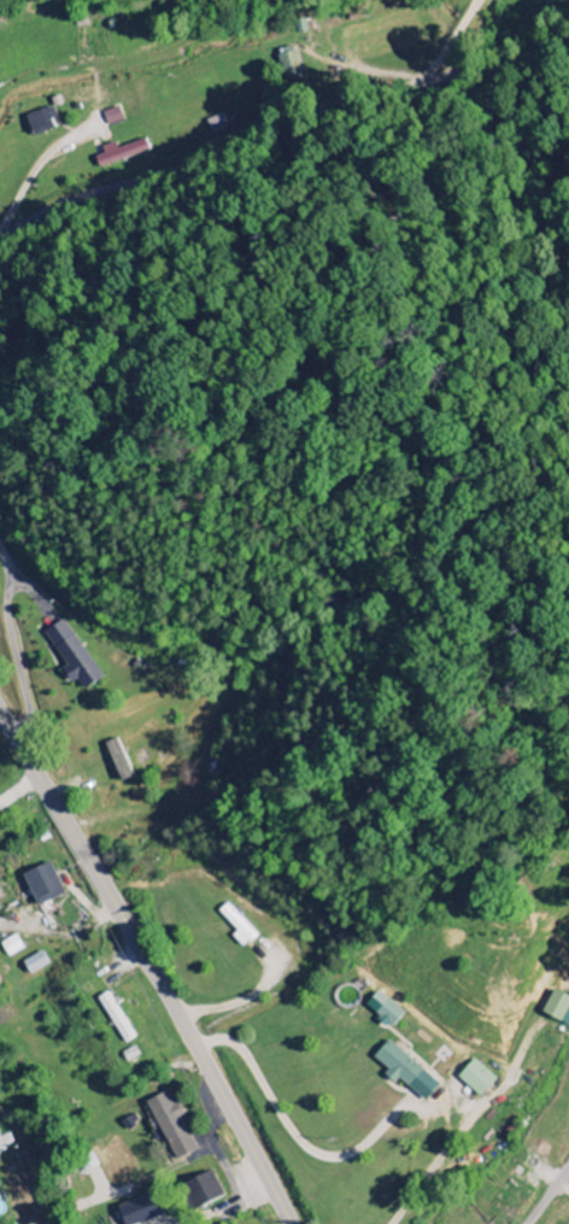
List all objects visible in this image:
building: (292, 64)
building: (112, 116)
building: (41, 121)
road: (281, 137)
building: (121, 152)
building: (72, 655)
building: (118, 760)
road: (22, 791)
building: (42, 884)
building: (236, 926)
building: (12, 947)
road: (152, 961)
building: (35, 964)
building: (556, 1009)
building: (388, 1014)
building: (404, 1071)
building: (474, 1078)
building: (172, 1126)
building: (5, 1142)
building: (199, 1191)
road: (549, 1196)
building: (139, 1212)

